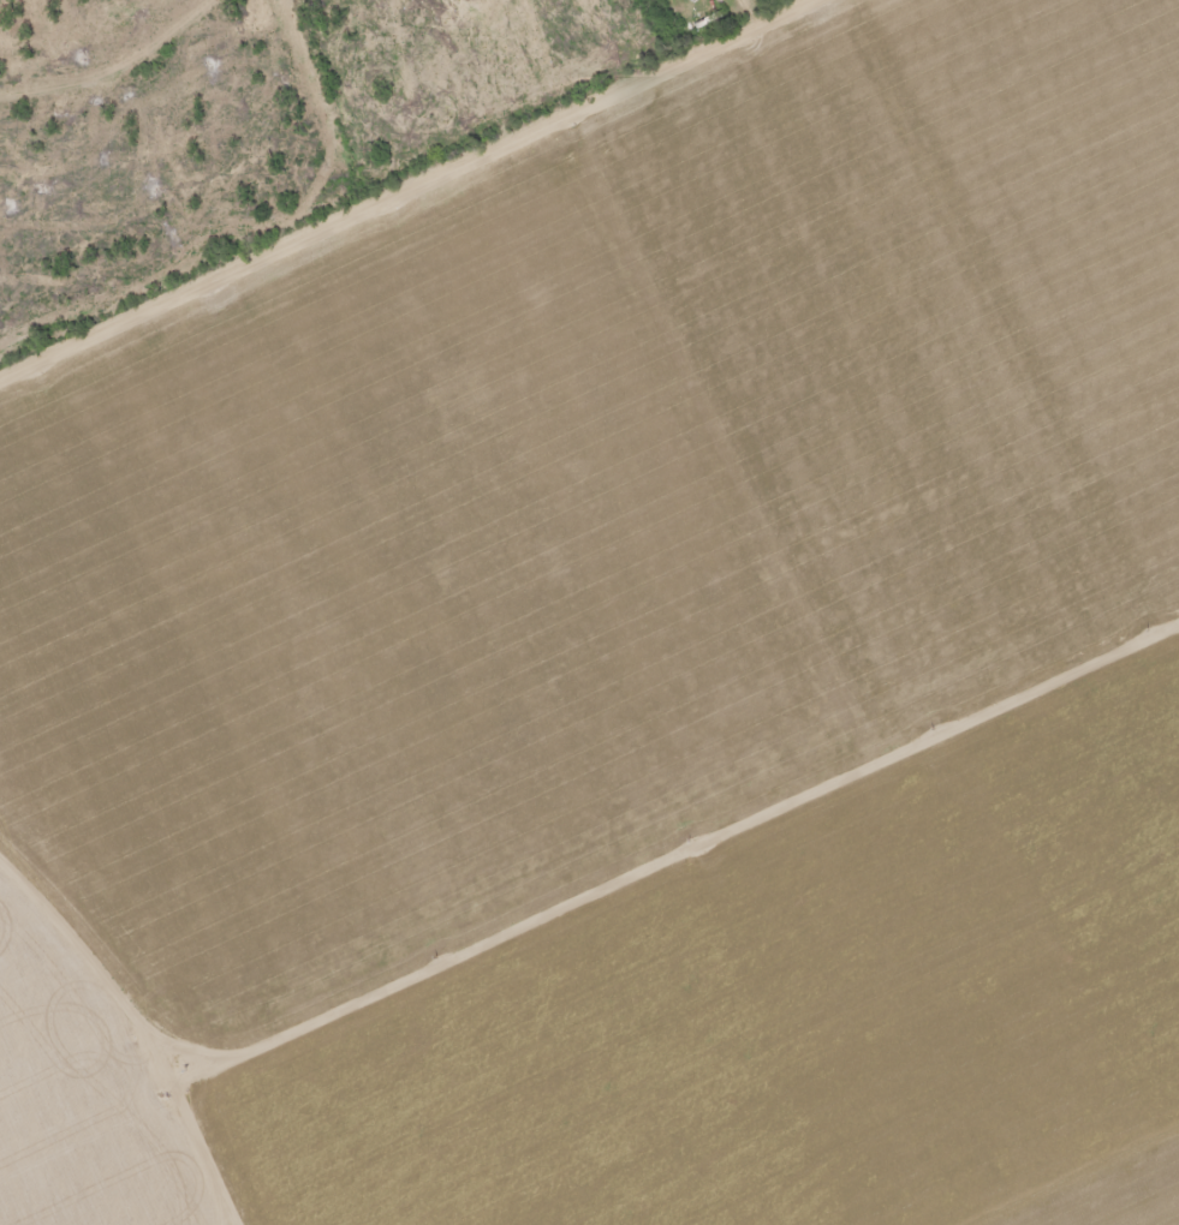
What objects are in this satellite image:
road: (711, 685)

